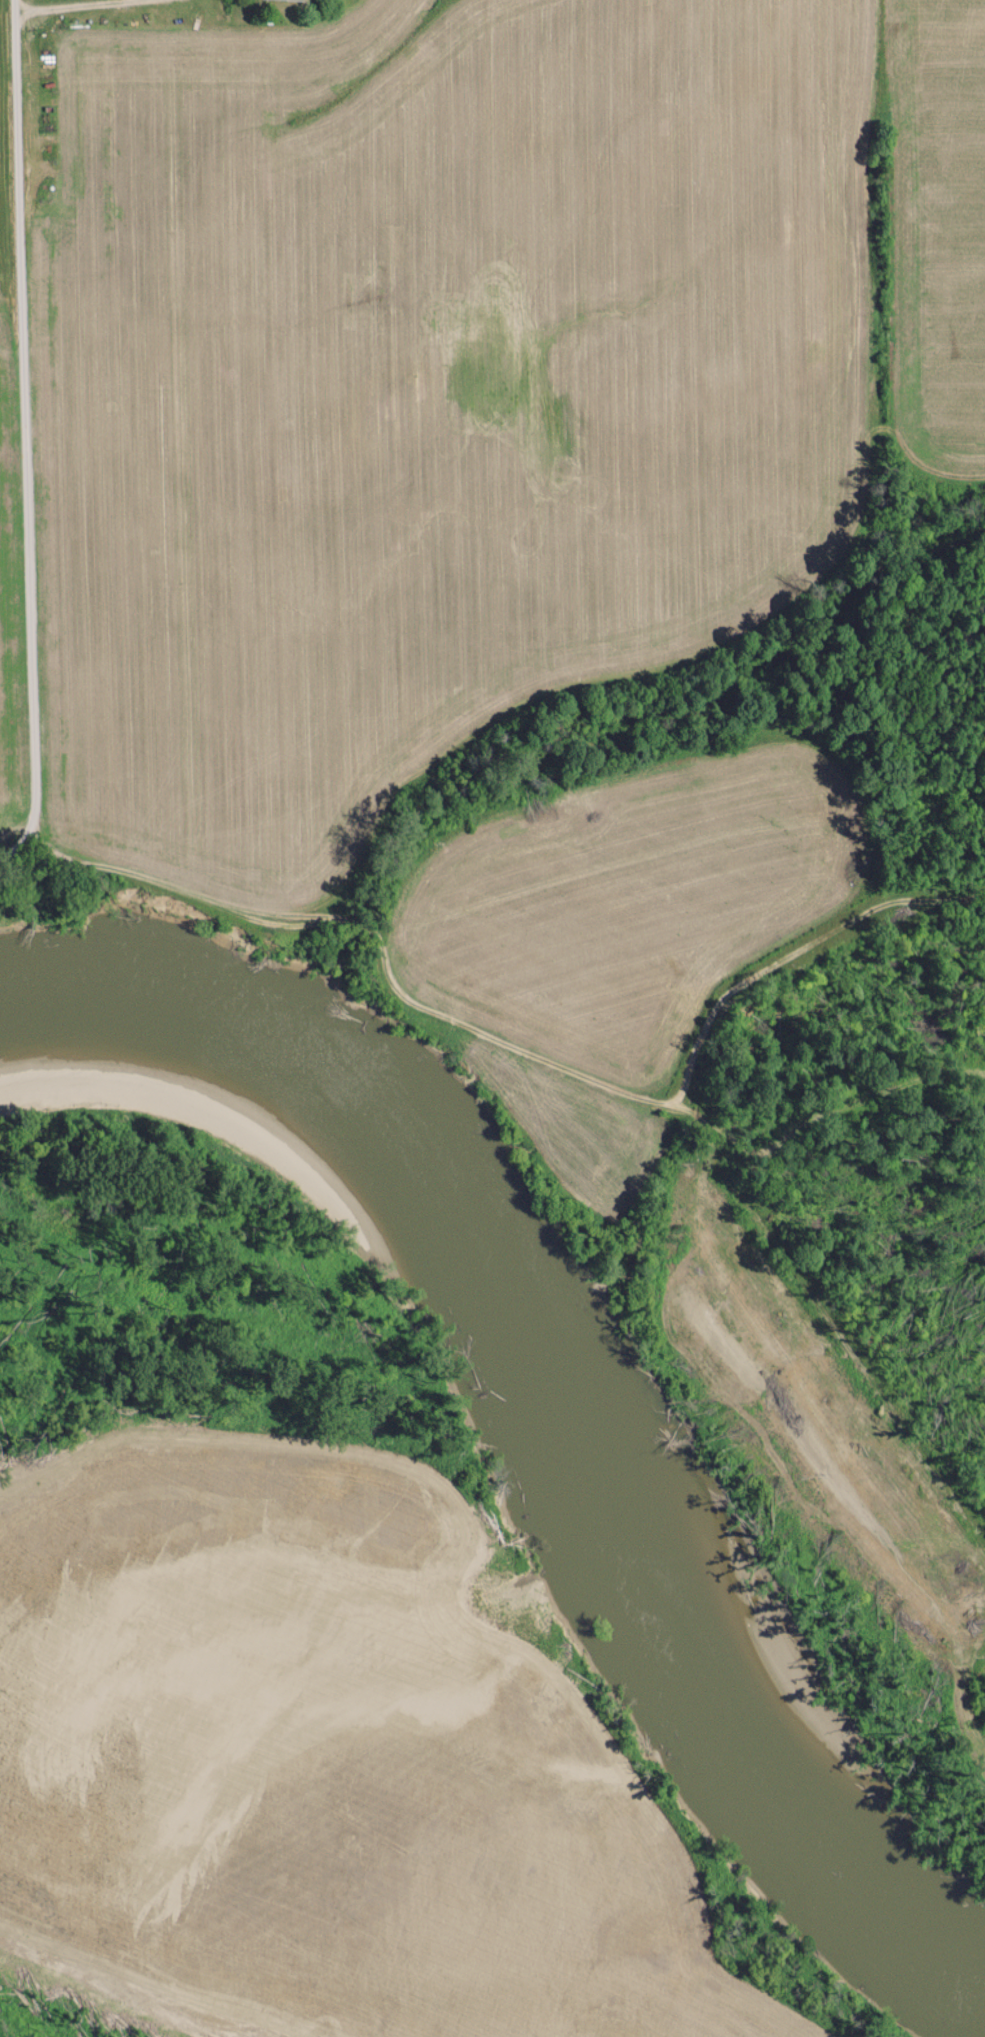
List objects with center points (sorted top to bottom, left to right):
road: (23, 438)
road: (581, 1074)
river: (563, 1397)

